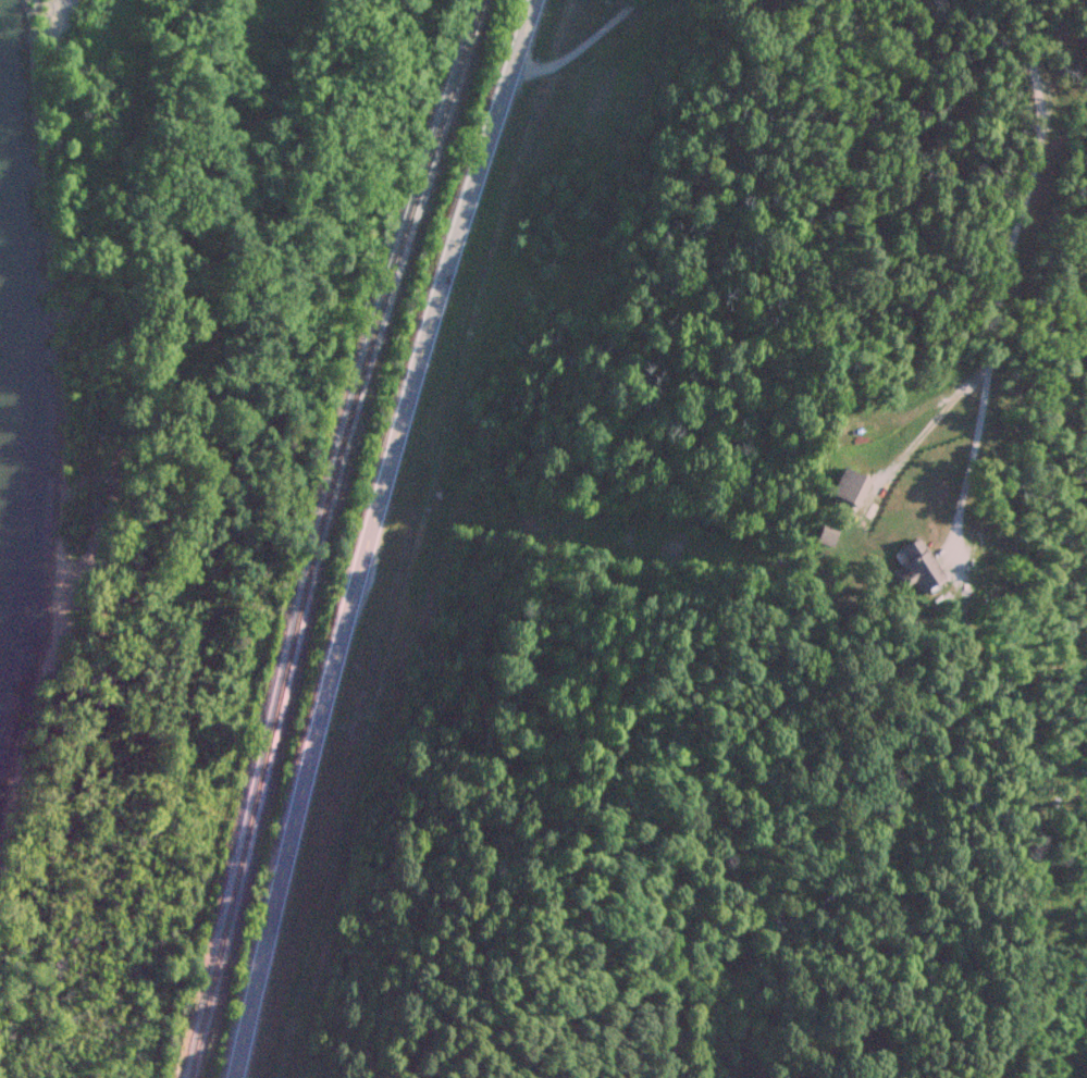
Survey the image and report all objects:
road: (579, 48)
road: (1009, 265)
railway: (308, 534)
road: (368, 534)

